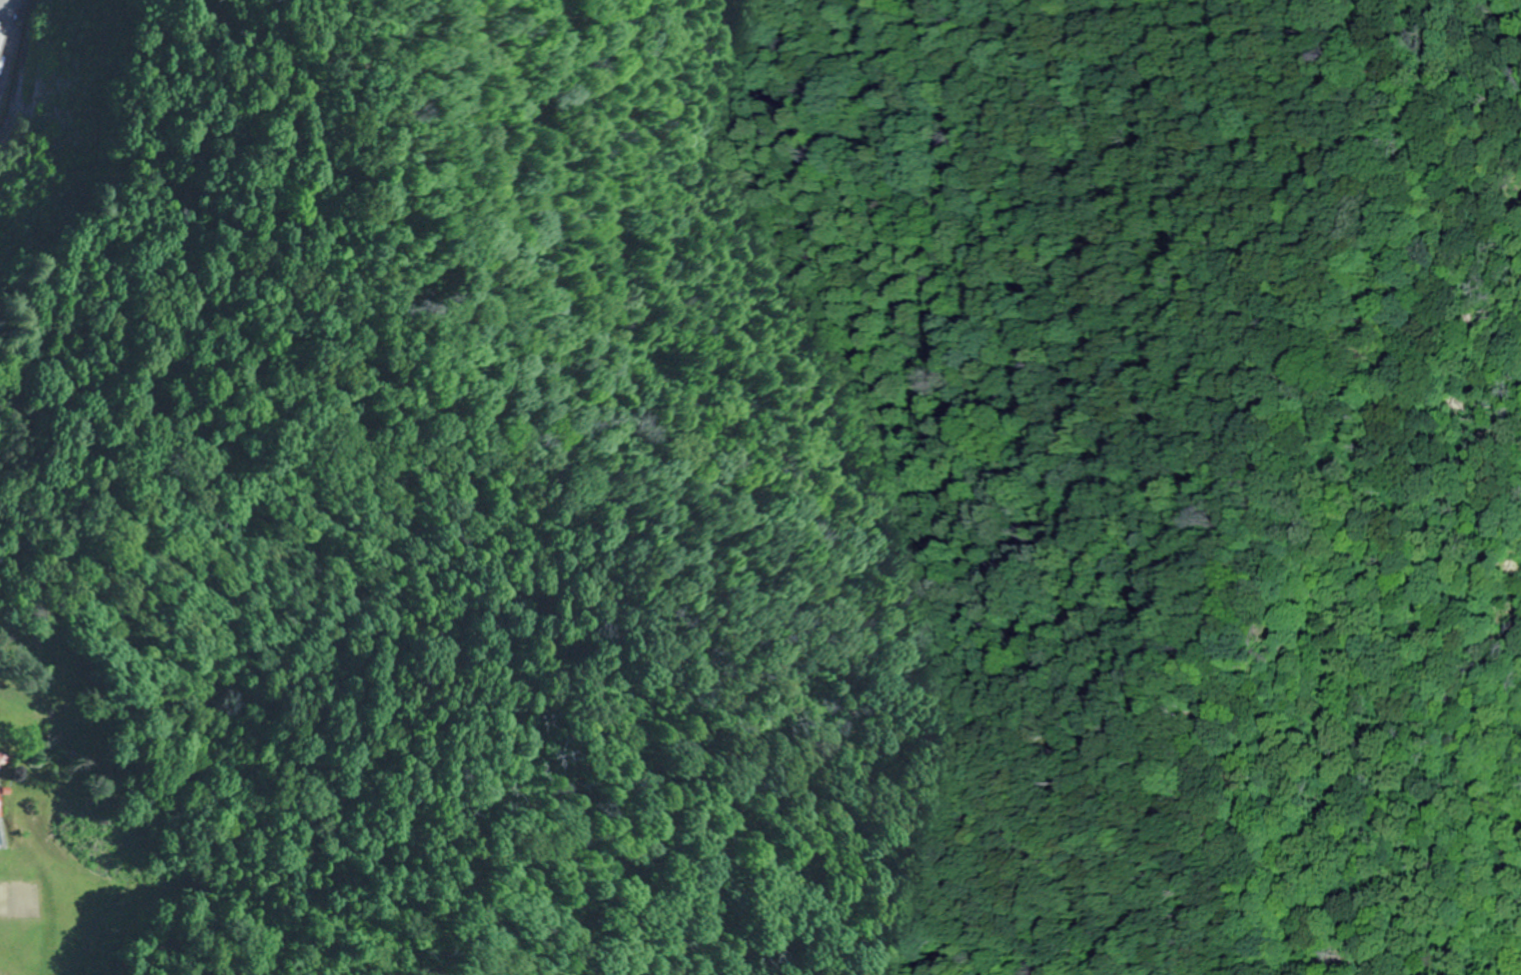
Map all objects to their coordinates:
building: (2, 45)

